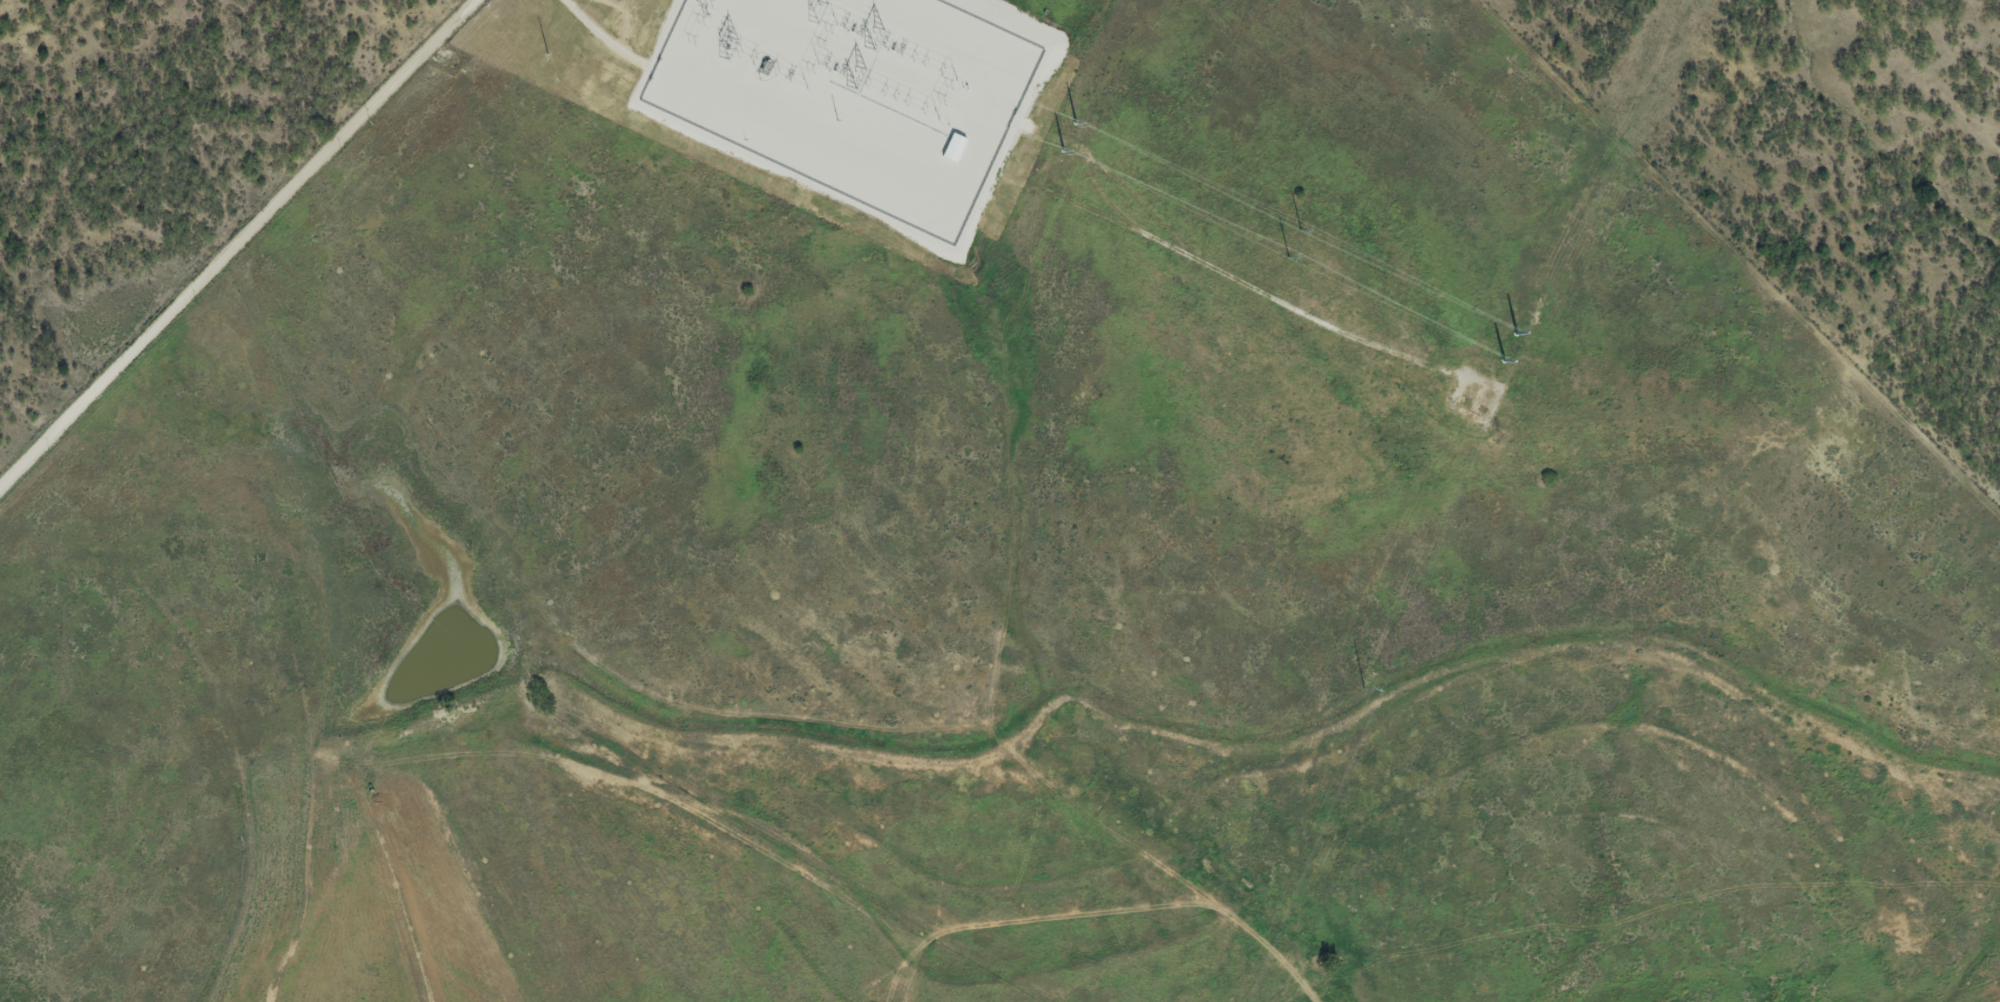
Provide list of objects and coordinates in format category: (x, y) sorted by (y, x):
power substation: (855, 93)
road: (235, 244)

